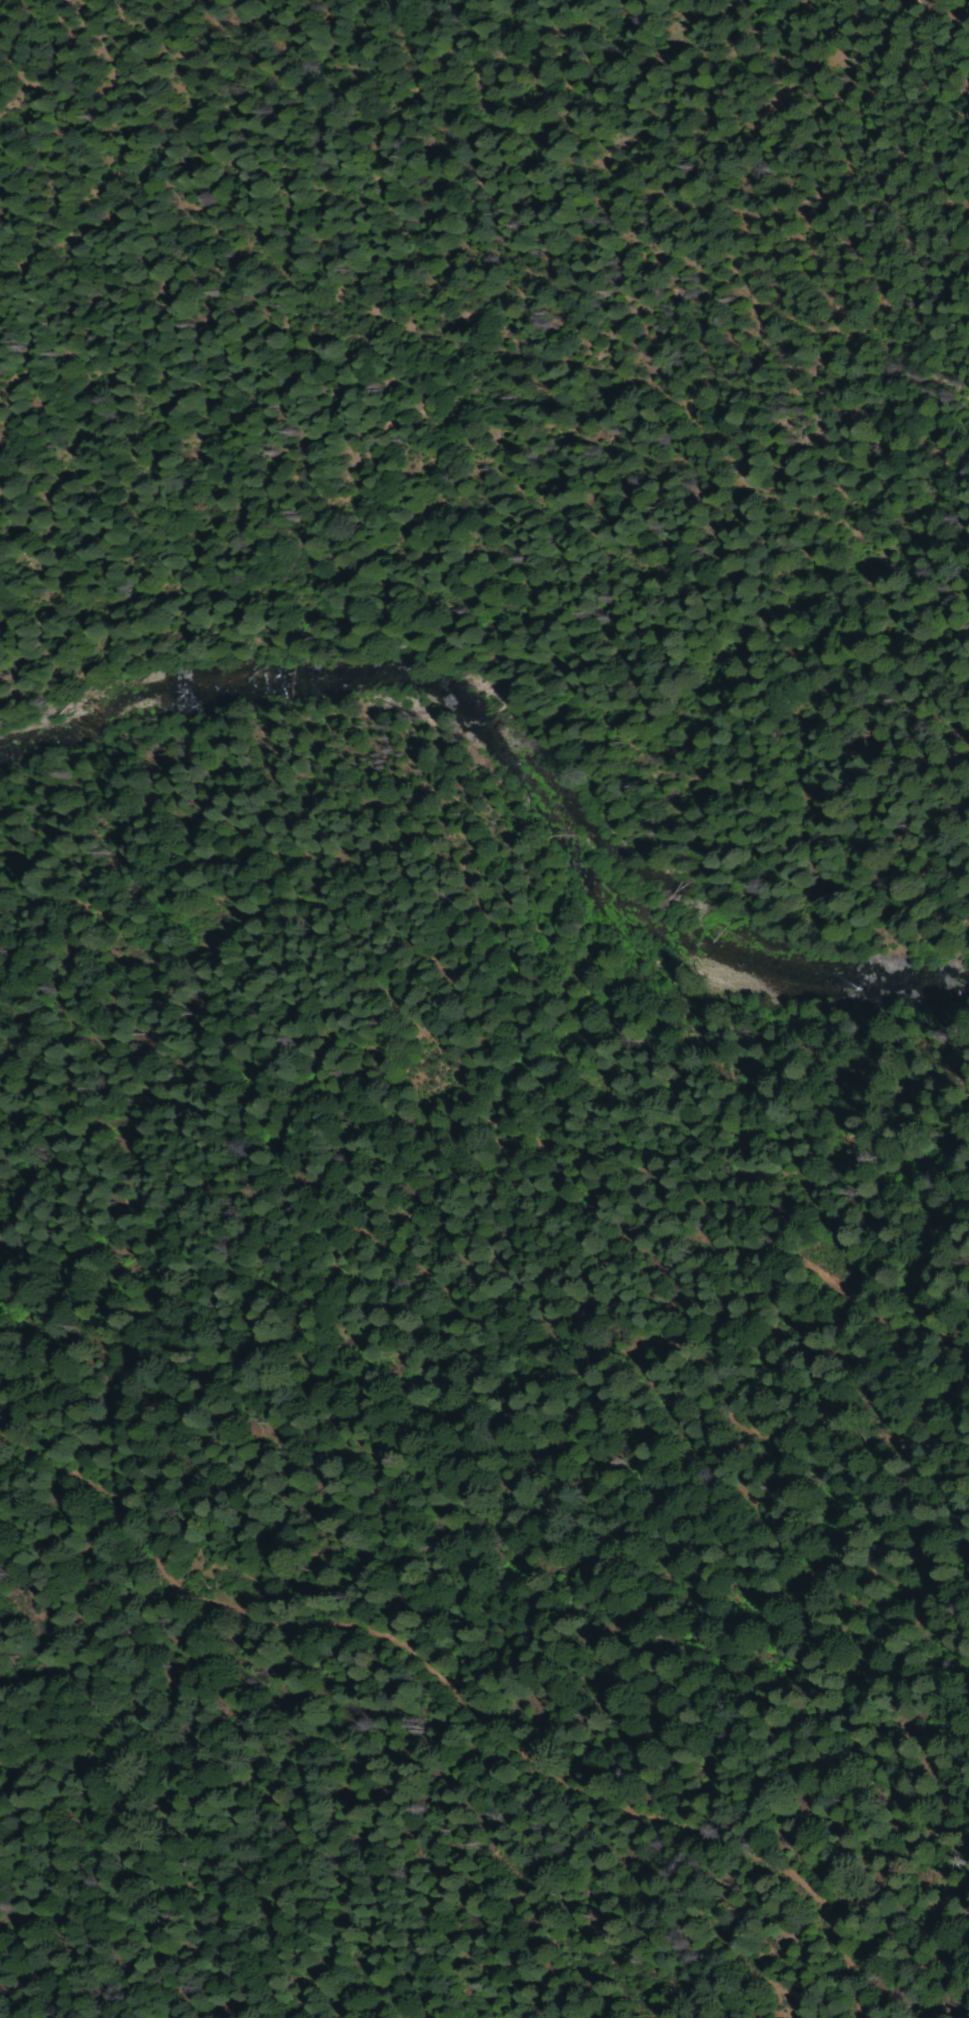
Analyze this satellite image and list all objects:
river: (518, 742)
road: (496, 1673)

